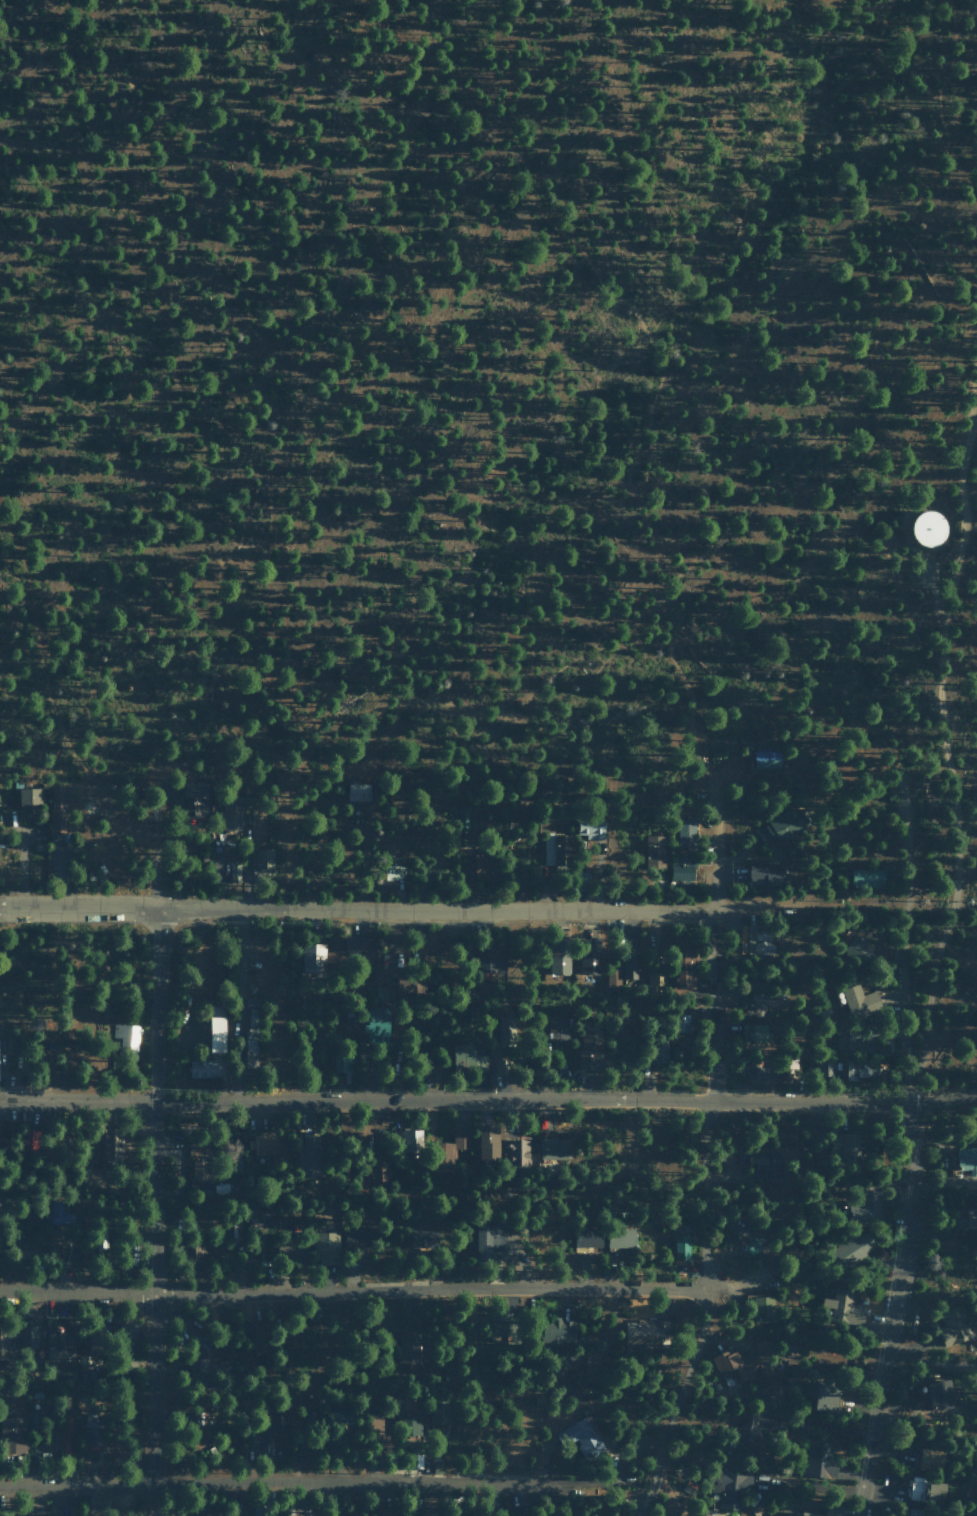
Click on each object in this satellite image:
road: (589, 268)
road: (870, 323)
road: (961, 488)
building: (924, 531)
storage tank: (924, 531)
road: (931, 582)
road: (69, 701)
road: (691, 701)
building: (766, 759)
building: (29, 795)
building: (358, 795)
building: (194, 797)
building: (60, 810)
building: (229, 815)
building: (591, 827)
building: (780, 828)
building: (685, 833)
building: (555, 848)
building: (654, 851)
road: (961, 856)
building: (261, 858)
building: (483, 866)
building: (682, 869)
building: (234, 872)
building: (765, 875)
building: (867, 878)
road: (938, 879)
road: (838, 896)
road: (465, 905)
road: (77, 906)
building: (755, 940)
building: (354, 944)
building: (858, 949)
road: (713, 955)
building: (589, 956)
building: (559, 957)
building: (313, 958)
building: (491, 959)
building: (683, 962)
building: (630, 963)
building: (613, 977)
building: (408, 983)
building: (655, 983)
building: (765, 1000)
building: (859, 1002)
building: (681, 1022)
building: (375, 1025)
building: (558, 1028)
building: (216, 1029)
building: (251, 1029)
building: (506, 1031)
building: (753, 1033)
building: (863, 1043)
building: (589, 1049)
building: (467, 1058)
building: (342, 1062)
building: (596, 1064)
building: (499, 1067)
building: (202, 1068)
building: (861, 1069)
building: (757, 1076)
road: (456, 1101)
building: (406, 1141)
building: (488, 1143)
building: (844, 1143)
building: (110, 1144)
building: (265, 1144)
building: (554, 1149)
building: (448, 1150)
building: (518, 1152)
building: (308, 1155)
building: (967, 1159)
building: (768, 1167)
building: (202, 1171)
building: (379, 1173)
road: (904, 1197)
building: (867, 1208)
road: (150, 1211)
building: (258, 1215)
building: (966, 1218)
building: (357, 1237)
building: (423, 1237)
building: (587, 1238)
building: (620, 1239)
building: (488, 1241)
building: (20, 1244)
building: (752, 1244)
building: (325, 1248)
building: (681, 1248)
building: (852, 1249)
building: (192, 1250)
building: (288, 1250)
building: (53, 1251)
road: (353, 1291)
road: (707, 1296)
building: (846, 1308)
building: (762, 1309)
building: (499, 1326)
building: (952, 1326)
building: (128, 1331)
building: (557, 1331)
building: (27, 1337)
building: (256, 1338)
building: (2, 1339)
building: (60, 1345)
building: (408, 1348)
building: (220, 1350)
building: (741, 1368)
building: (198, 1372)
building: (939, 1393)
building: (826, 1395)
building: (409, 1402)
building: (438, 1412)
building: (274, 1421)
building: (93, 1431)
building: (12, 1432)
building: (66, 1434)
building: (747, 1434)
building: (584, 1436)
building: (820, 1457)
building: (930, 1458)
road: (324, 1483)
building: (730, 1488)
building: (926, 1489)
road: (642, 1499)
building: (260, 1511)
building: (387, 1511)
building: (230, 1512)
building: (830, 1512)
building: (426, 1513)
building: (458, 1513)

